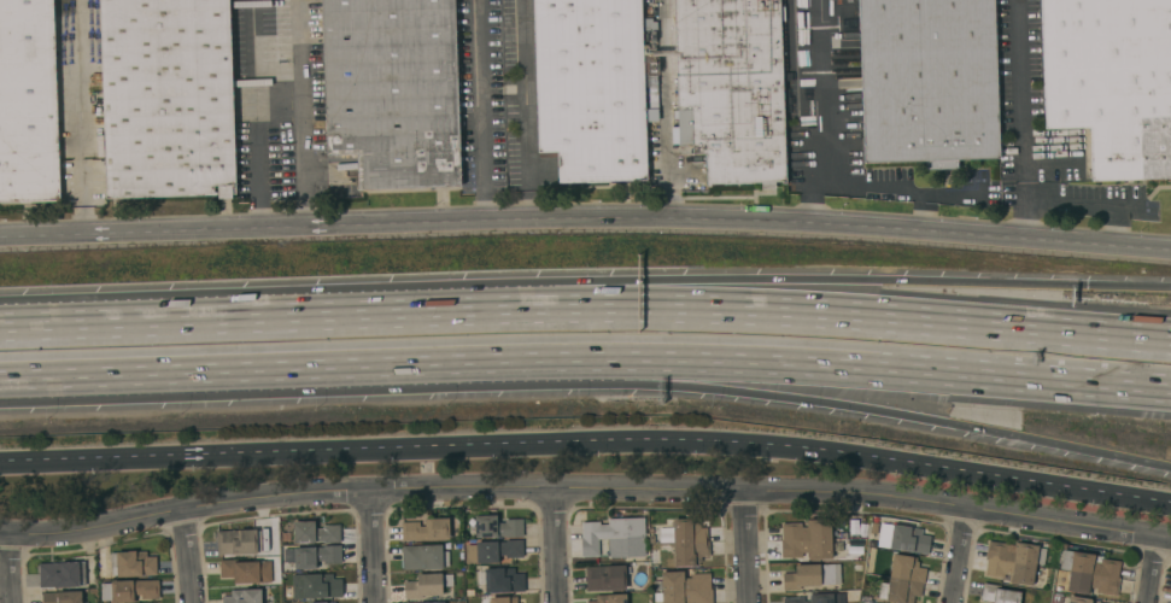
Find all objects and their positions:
building: (927, 81)
building: (1111, 82)
building: (590, 88)
building: (731, 88)
building: (392, 90)
building: (166, 98)
building: (28, 103)
road: (663, 110)
road: (526, 111)
road: (481, 112)
road: (821, 113)
road: (301, 115)
road: (83, 118)
road: (1025, 121)
road: (894, 189)
road: (918, 213)
road: (585, 221)
road: (652, 286)
traffic signals: (1087, 288)
road: (652, 317)
road: (68, 322)
road: (794, 367)
road: (210, 381)
road: (1, 388)
road: (1, 388)
road: (796, 399)
road: (587, 443)
road: (585, 491)
building: (494, 527)
building: (427, 529)
building: (315, 533)
building: (664, 534)
building: (614, 537)
building: (902, 538)
building: (808, 539)
building: (236, 543)
building: (689, 543)
road: (373, 546)
road: (558, 546)
road: (749, 549)
building: (493, 551)
building: (311, 556)
road: (962, 556)
road: (189, 557)
building: (423, 557)
building: (654, 557)
building: (1013, 562)
building: (131, 564)
road: (13, 569)
building: (246, 570)
road: (1153, 570)
building: (1089, 573)
building: (62, 574)
building: (810, 576)
building: (605, 578)
building: (447, 580)
building: (503, 580)
building: (902, 580)
building: (316, 586)
building: (423, 586)
building: (684, 587)
building: (128, 590)
building: (469, 592)
building: (999, 595)
building: (242, 596)
building: (62, 597)
building: (609, 598)
building: (818, 598)
building: (503, 599)
building: (1078, 599)
building: (438, 602)

